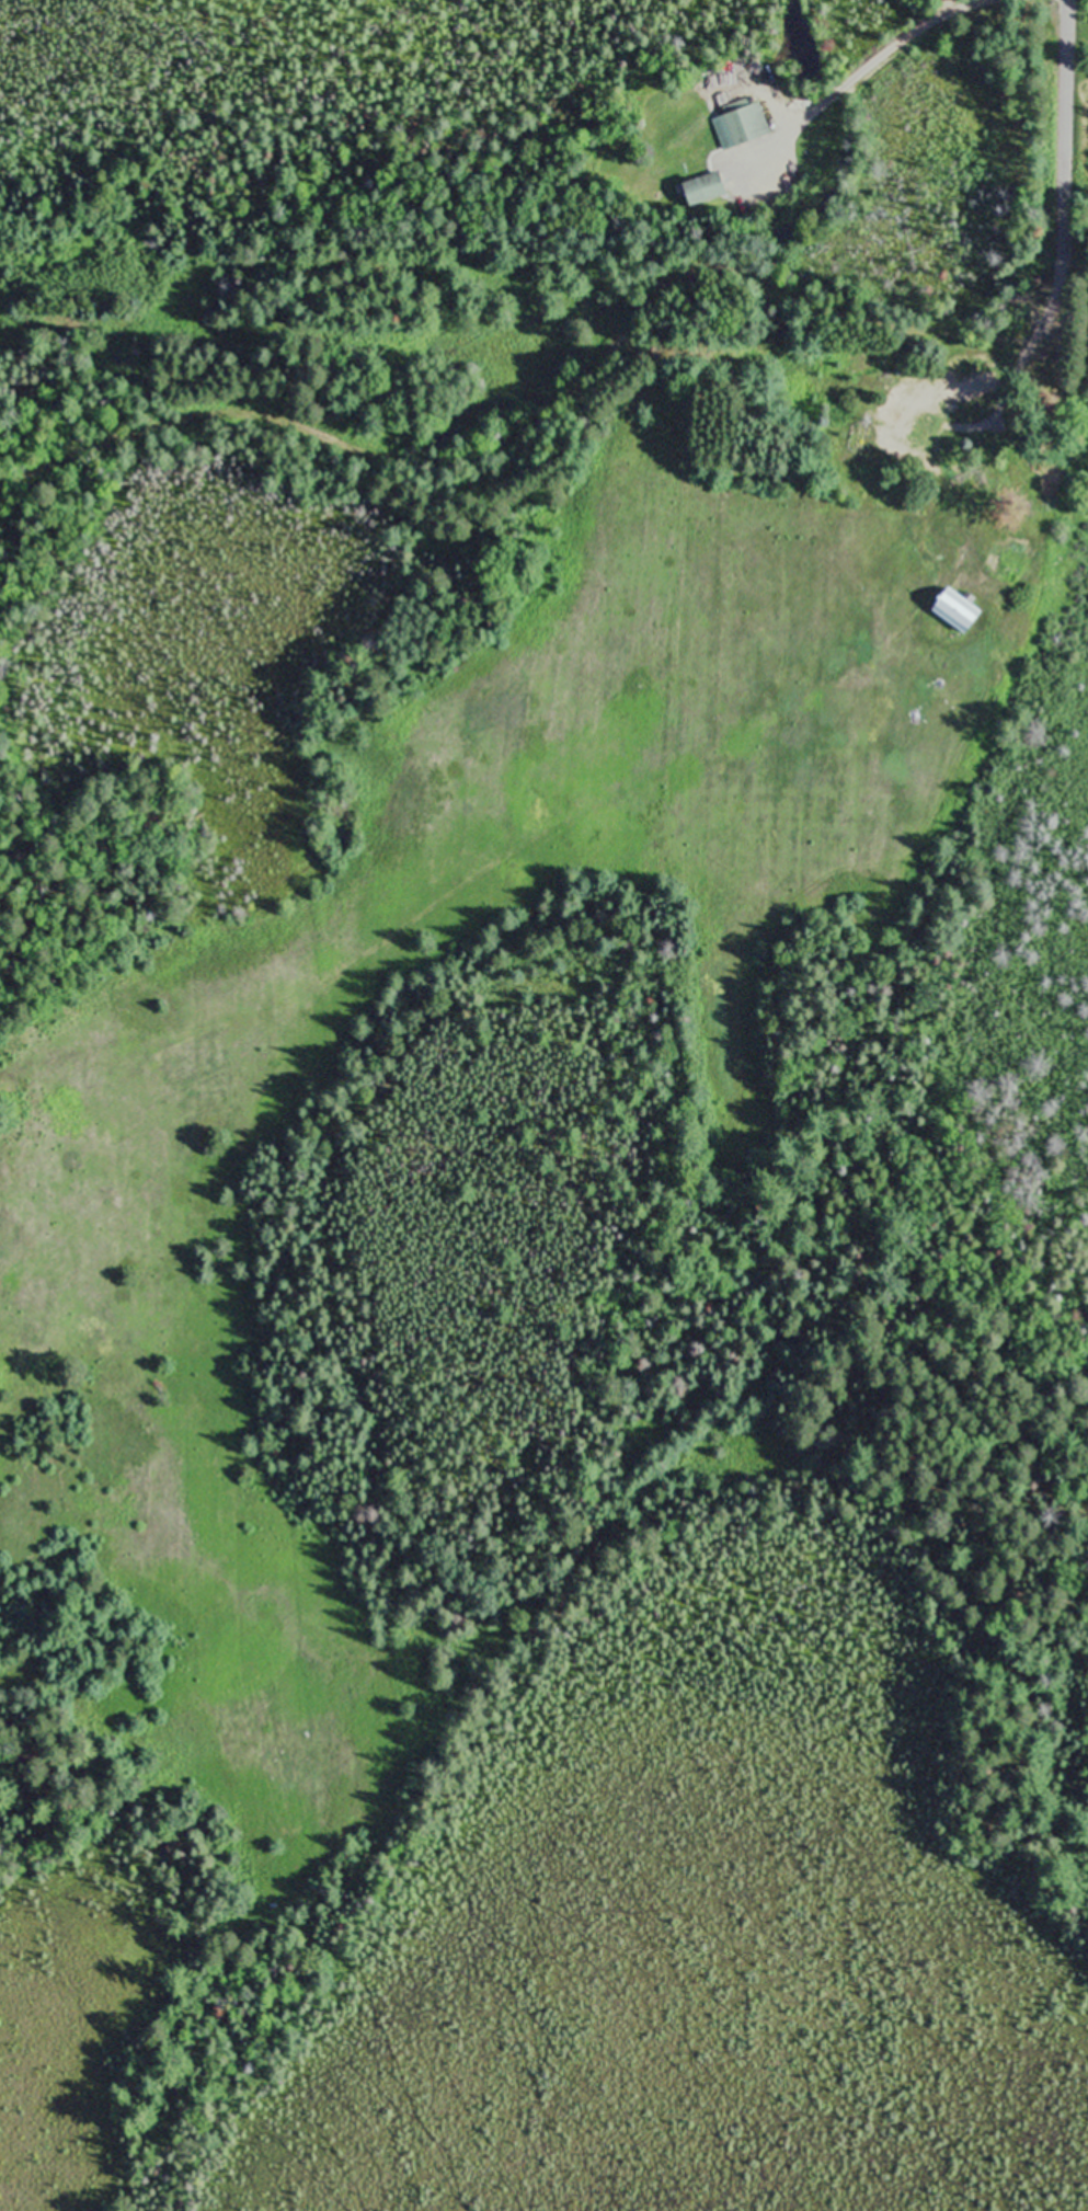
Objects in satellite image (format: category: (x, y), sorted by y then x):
building: (747, 123)
building: (706, 188)
road: (661, 291)
building: (1021, 307)
building: (966, 367)
building: (925, 433)
building: (1057, 460)
building: (959, 610)

